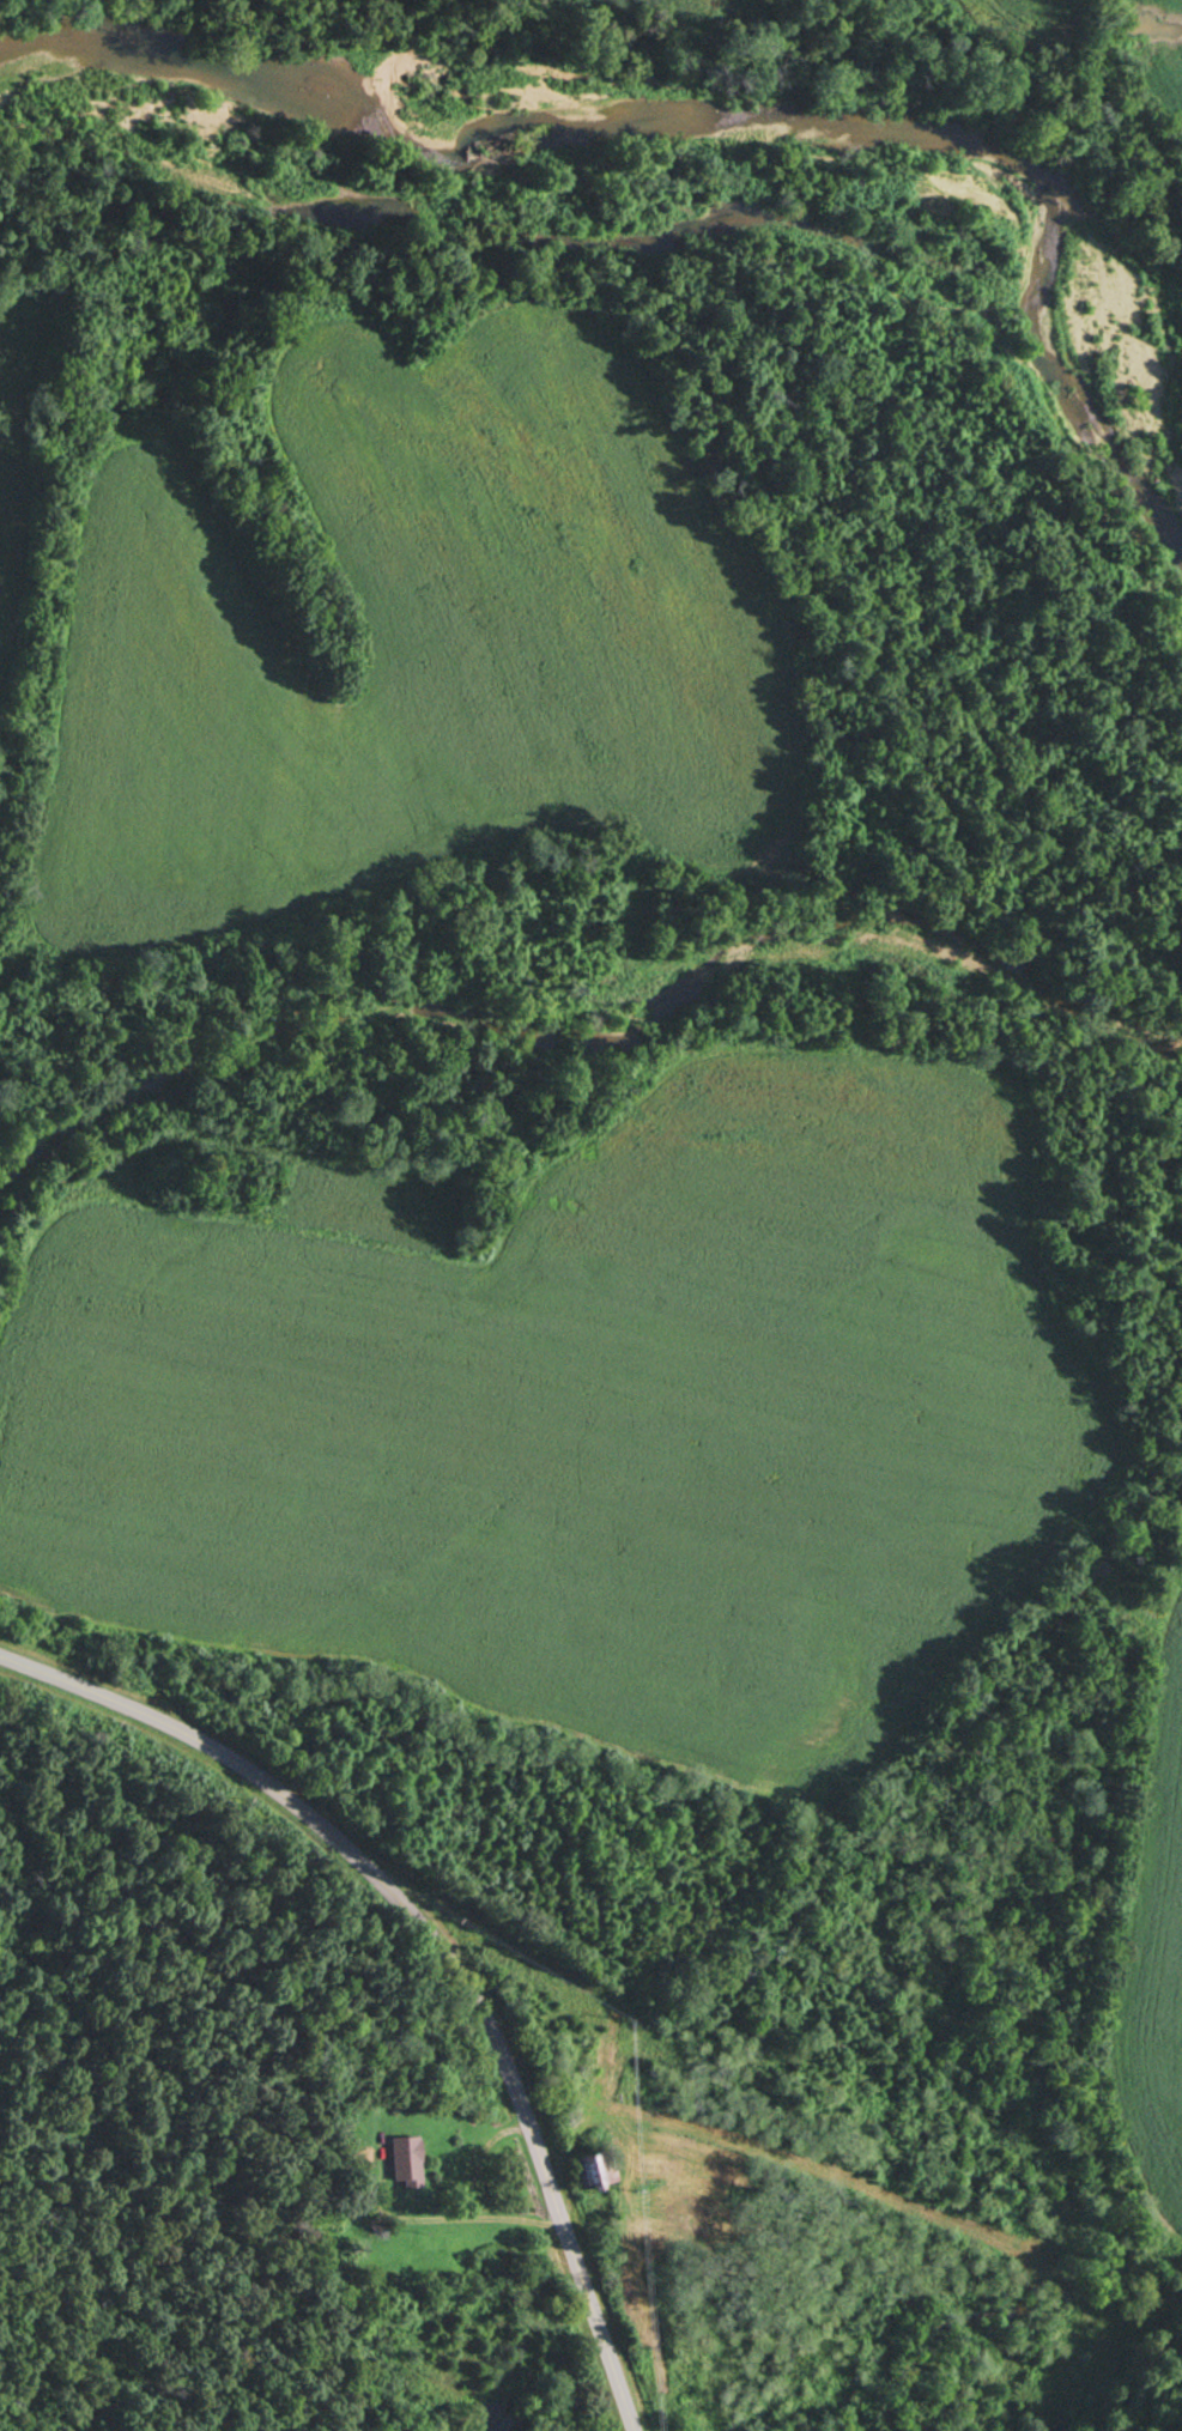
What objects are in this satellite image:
river: (692, 113)
road: (429, 1947)
building: (401, 2162)
building: (587, 2169)

